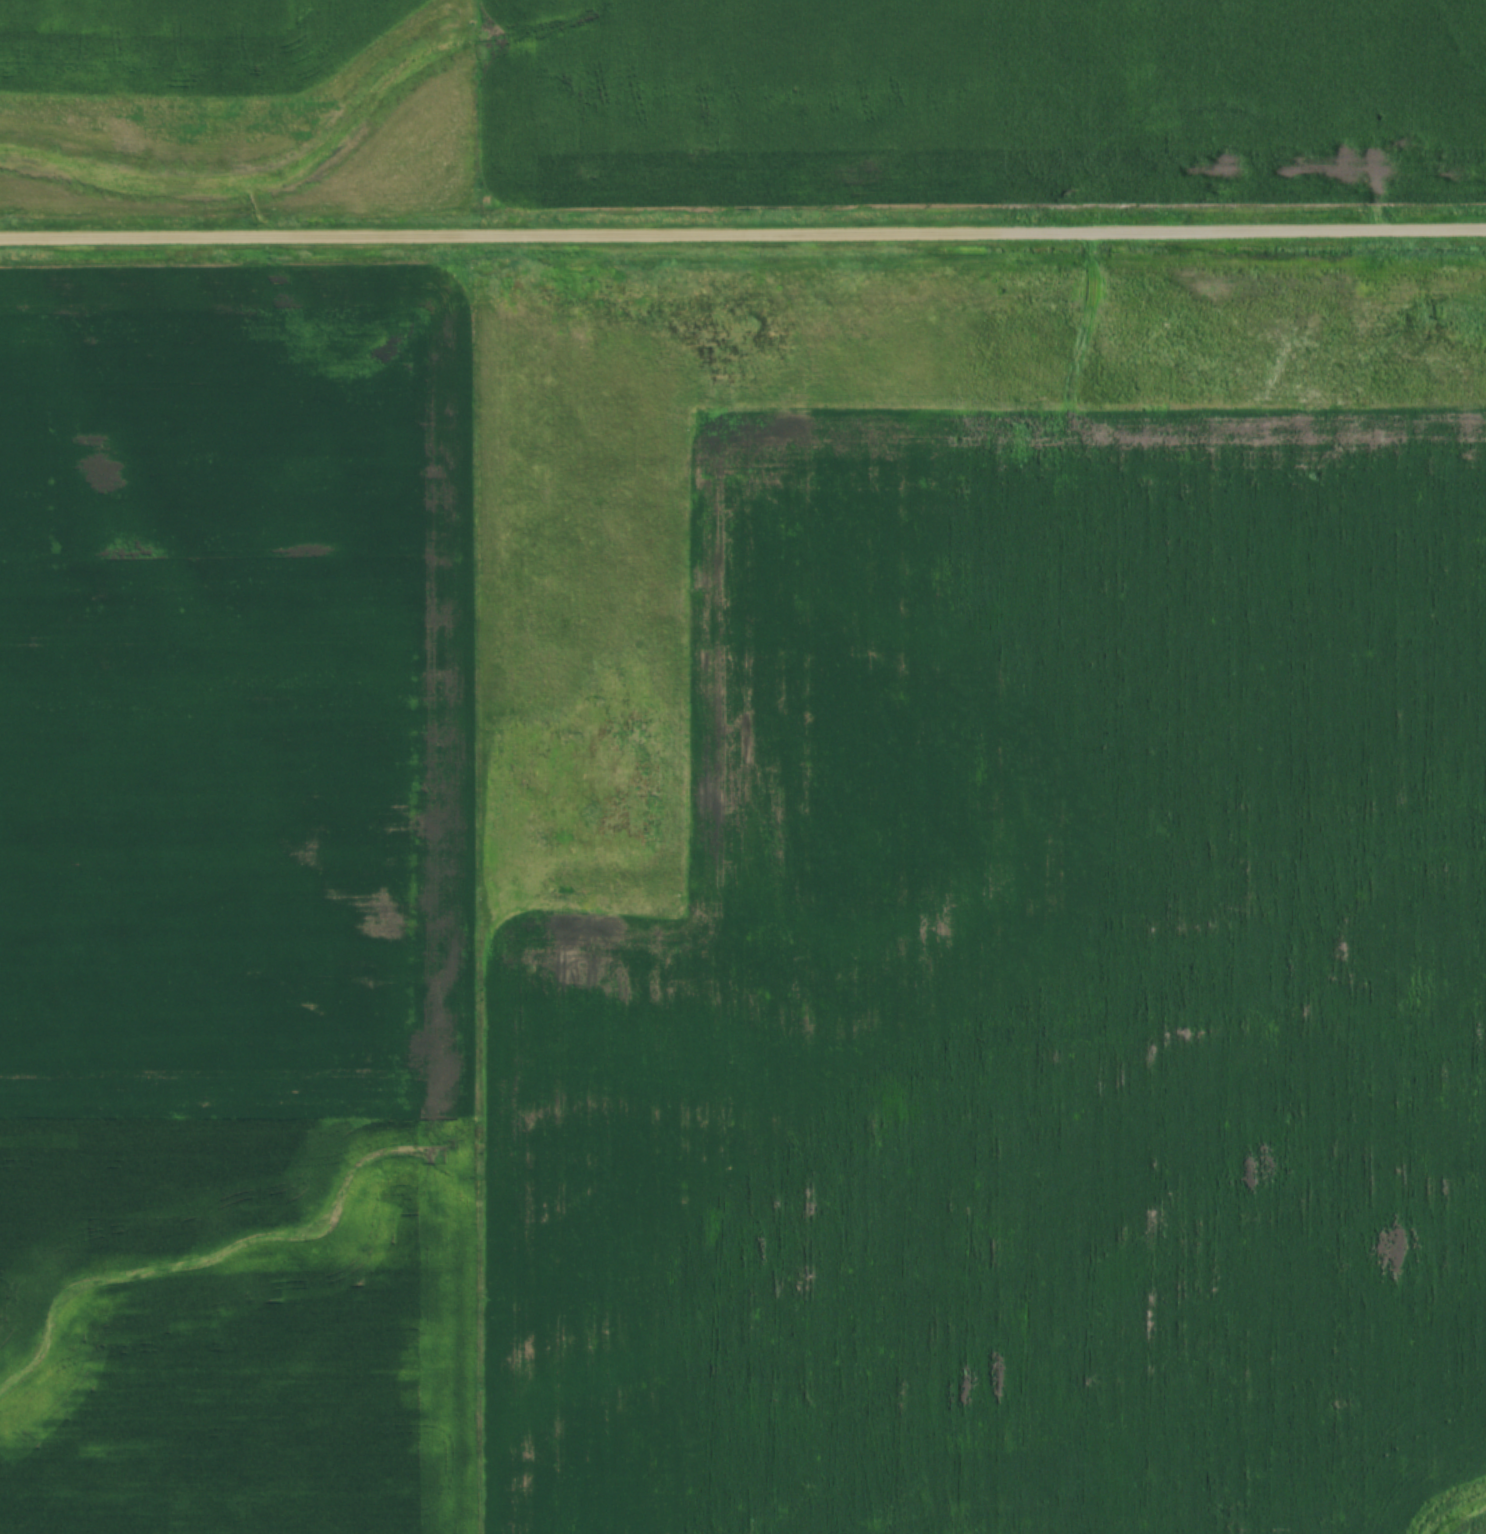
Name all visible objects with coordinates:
road: (743, 223)

